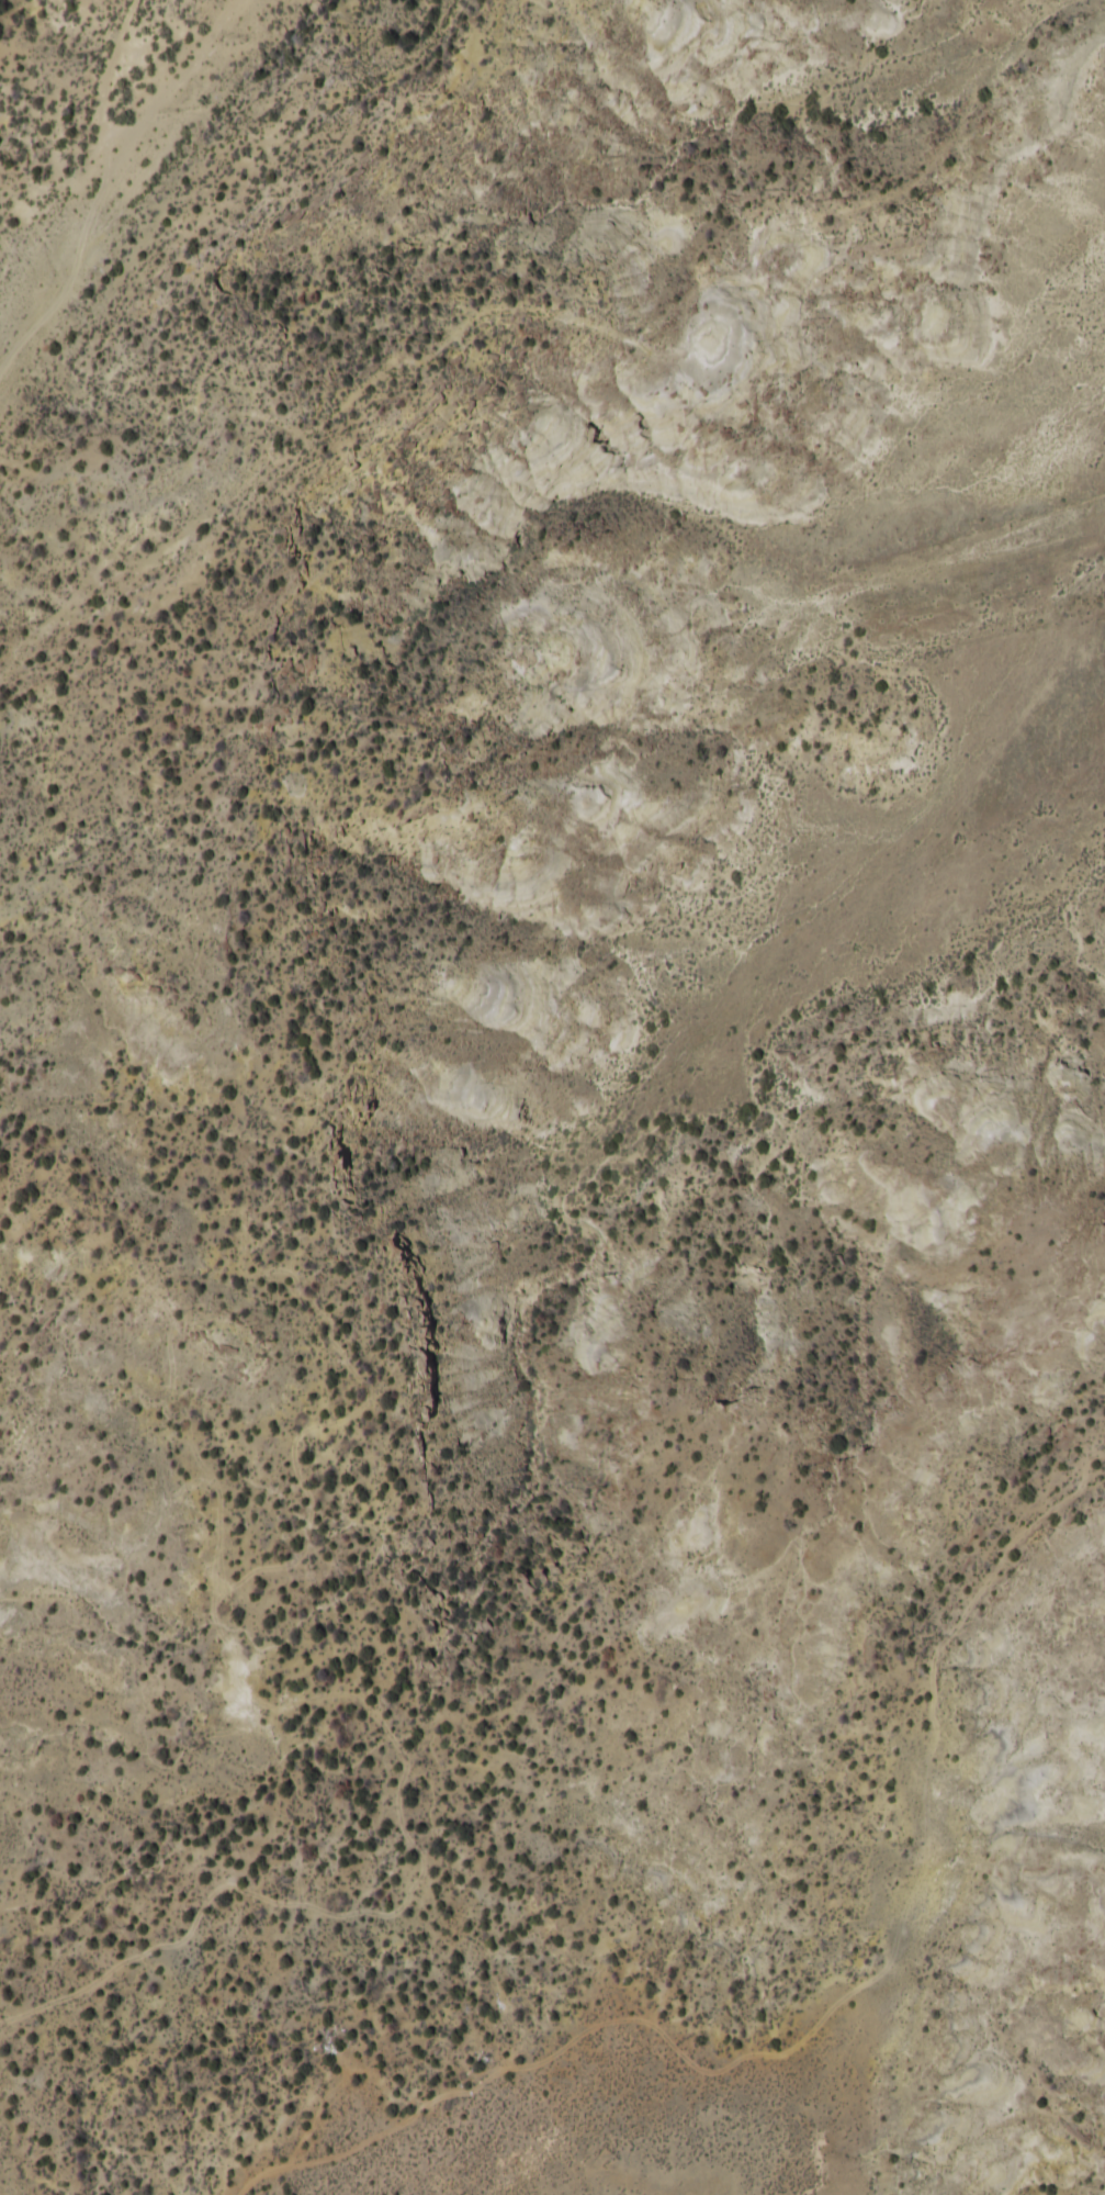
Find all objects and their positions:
road: (126, 178)
road: (1000, 742)

